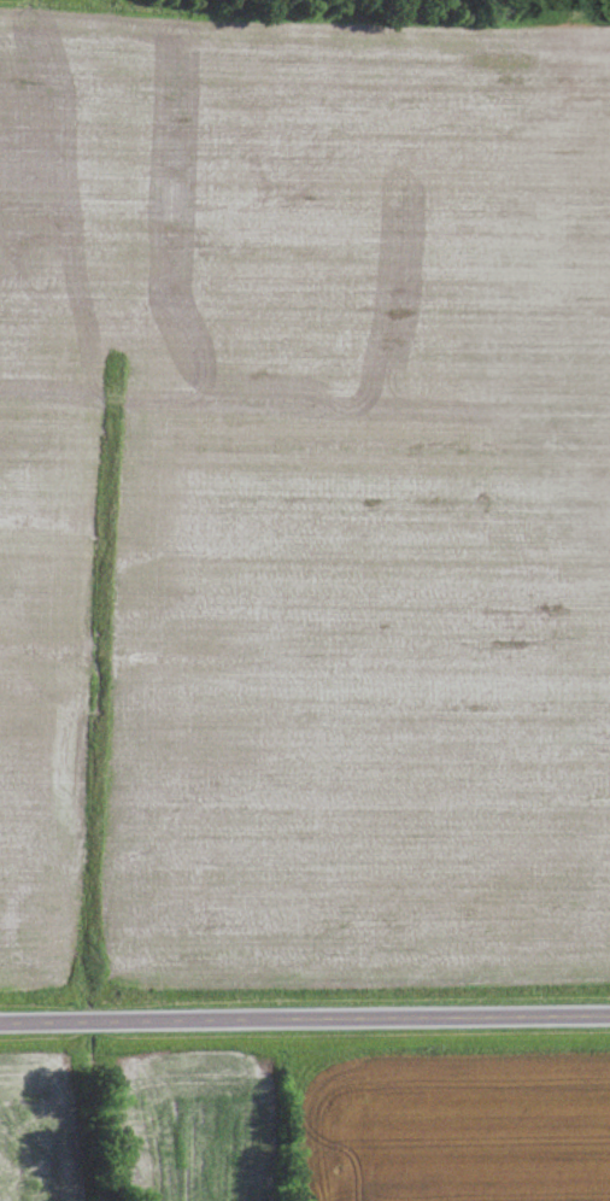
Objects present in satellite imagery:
road: (305, 1017)

